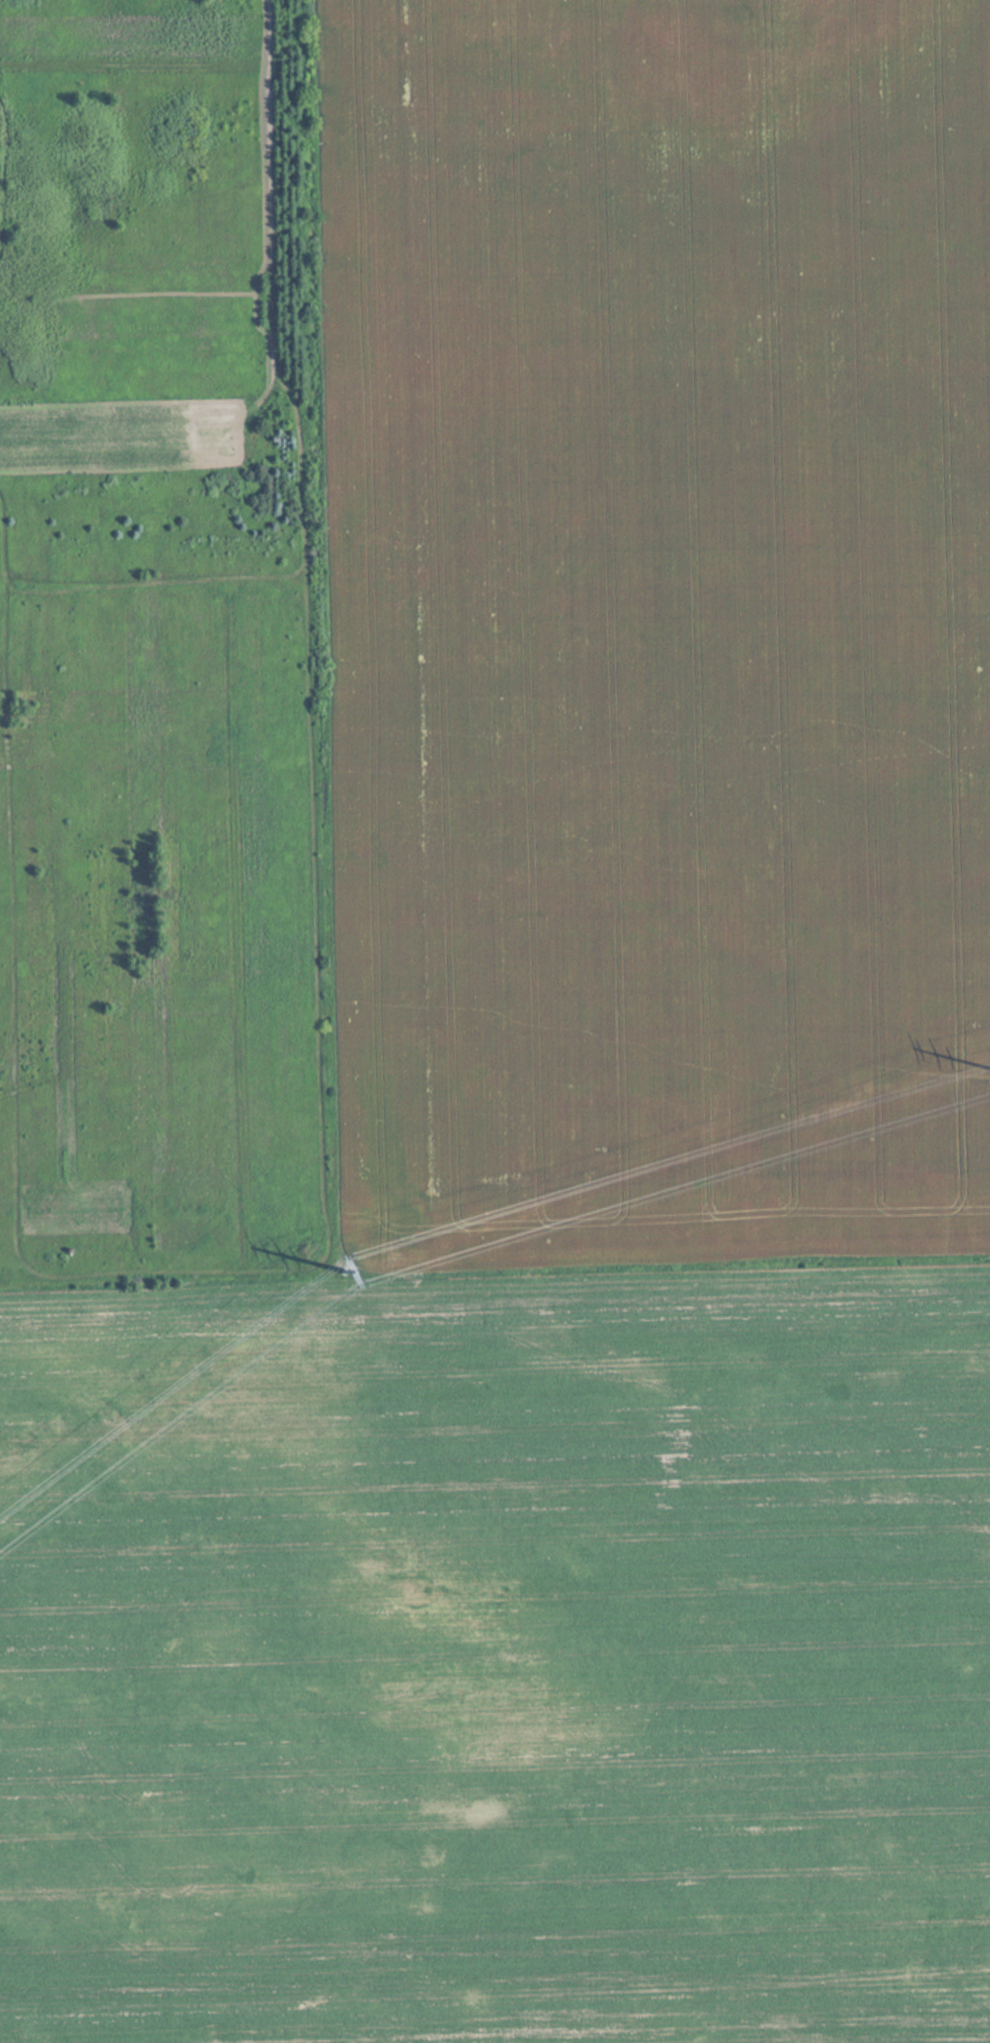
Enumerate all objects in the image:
power tower: (352, 1276)

